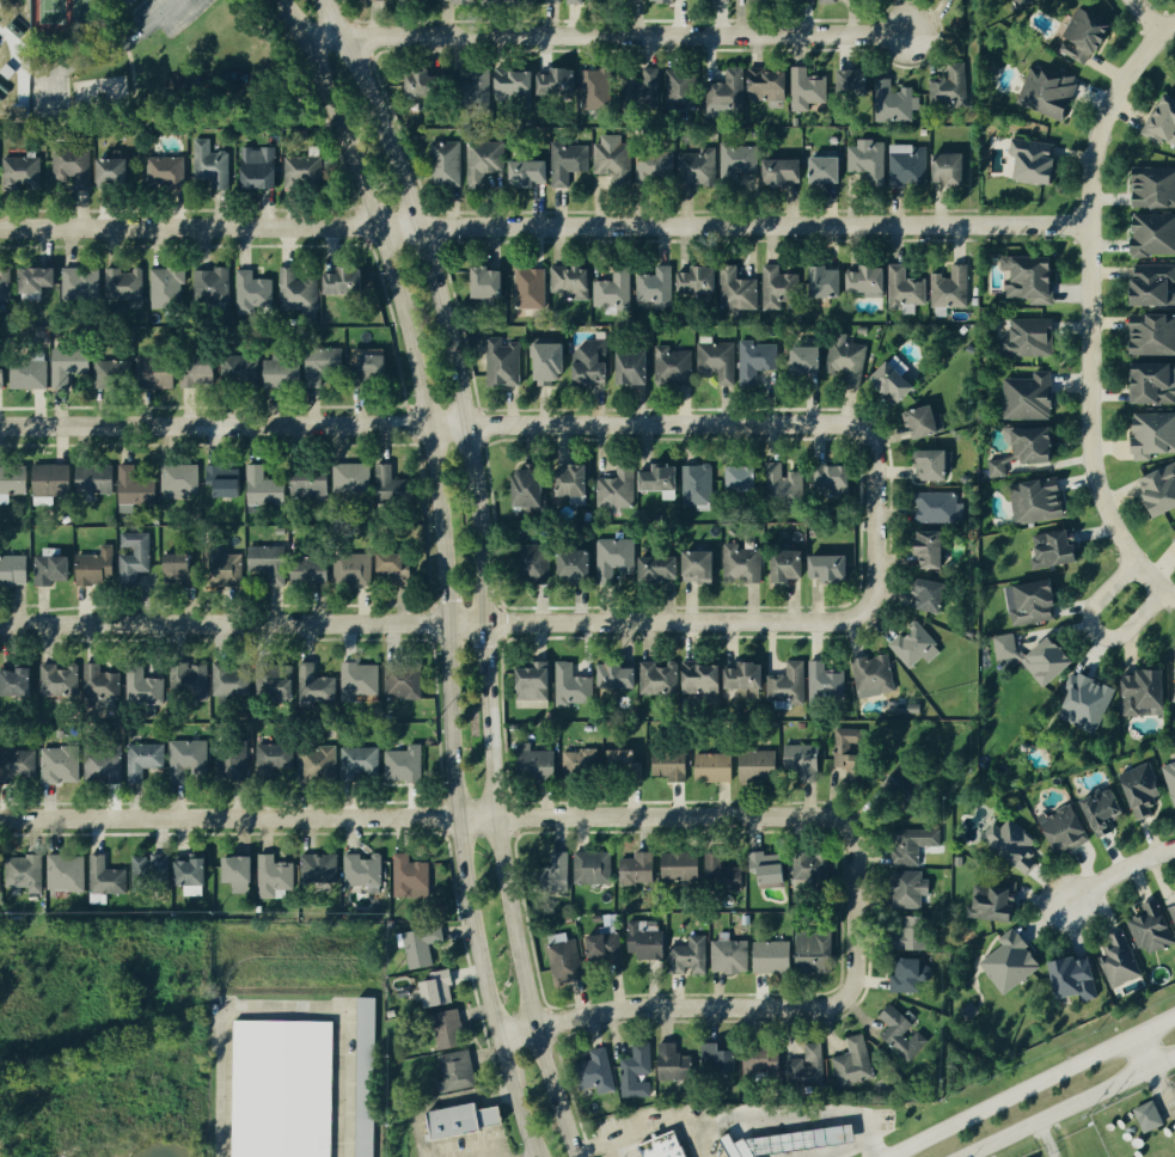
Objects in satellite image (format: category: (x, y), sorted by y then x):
building: (381, 0)
building: (498, 0)
building: (541, 0)
building: (673, 0)
building: (720, 0)
building: (763, 0)
building: (469, 1)
building: (576, 1)
building: (828, 1)
building: (1014, 4)
road: (1144, 18)
road: (602, 35)
building: (1077, 38)
road: (105, 53)
road: (18, 62)
park: (159, 66)
building: (516, 82)
building: (559, 82)
building: (856, 82)
building: (428, 84)
building: (650, 84)
building: (771, 85)
building: (598, 88)
building: (681, 88)
building: (951, 88)
building: (808, 90)
building: (729, 91)
building: (1041, 93)
building: (898, 105)
building: (1158, 122)
building: (613, 159)
building: (485, 161)
building: (569, 163)
building: (739, 163)
building: (867, 163)
building: (1026, 163)
building: (447, 164)
building: (212, 165)
building: (655, 166)
building: (907, 166)
building: (72, 167)
building: (698, 167)
building: (262, 169)
building: (951, 169)
building: (306, 170)
building: (23, 171)
building: (116, 171)
building: (167, 171)
building: (784, 171)
building: (827, 171)
building: (532, 172)
building: (1150, 188)
road: (544, 225)
building: (1150, 235)
building: (700, 280)
building: (1024, 280)
building: (871, 281)
building: (39, 282)
building: (345, 282)
building: (822, 282)
building: (491, 283)
building: (573, 283)
building: (82, 284)
building: (6, 286)
building: (126, 286)
building: (213, 286)
building: (169, 287)
building: (657, 287)
building: (1148, 287)
building: (532, 288)
building: (779, 288)
building: (950, 288)
building: (299, 290)
building: (739, 290)
building: (906, 290)
building: (614, 292)
building: (253, 293)
road: (1089, 311)
building: (1148, 336)
building: (1023, 338)
building: (846, 356)
building: (720, 360)
building: (758, 360)
building: (803, 360)
building: (374, 363)
building: (503, 363)
building: (552, 363)
building: (593, 363)
building: (674, 365)
building: (72, 366)
building: (634, 368)
building: (240, 371)
building: (159, 372)
building: (201, 373)
building: (283, 373)
building: (115, 374)
building: (30, 375)
building: (2, 378)
building: (896, 379)
building: (1149, 384)
building: (1022, 398)
building: (925, 422)
road: (433, 423)
building: (1149, 436)
building: (1018, 451)
building: (934, 465)
building: (353, 478)
building: (96, 479)
building: (657, 479)
building: (746, 479)
building: (834, 479)
building: (227, 480)
building: (13, 482)
building: (180, 482)
building: (53, 483)
building: (312, 483)
building: (697, 484)
building: (785, 484)
building: (393, 486)
building: (135, 488)
building: (265, 488)
building: (533, 489)
building: (618, 490)
building: (1155, 490)
building: (1030, 502)
building: (941, 508)
building: (1173, 539)
building: (934, 550)
building: (1047, 551)
building: (134, 557)
building: (616, 559)
building: (224, 562)
building: (537, 562)
building: (270, 563)
building: (579, 564)
building: (743, 564)
building: (784, 565)
building: (662, 567)
building: (703, 567)
building: (53, 568)
building: (97, 568)
building: (179, 568)
building: (834, 568)
building: (397, 569)
building: (14, 570)
building: (355, 570)
road: (442, 570)
road: (483, 570)
building: (313, 573)
building: (931, 595)
building: (1027, 604)
road: (522, 620)
road: (1096, 631)
building: (914, 647)
building: (1028, 657)
building: (874, 677)
building: (620, 678)
building: (661, 679)
building: (704, 679)
building: (357, 680)
building: (402, 680)
building: (747, 680)
building: (60, 681)
building: (190, 681)
building: (276, 681)
building: (536, 681)
building: (19, 682)
building: (231, 682)
building: (825, 682)
building: (789, 684)
building: (1171, 684)
building: (317, 686)
building: (574, 686)
building: (103, 687)
building: (145, 687)
building: (1136, 694)
building: (1081, 704)
building: (533, 705)
building: (907, 709)
building: (587, 728)
building: (850, 753)
building: (1174, 753)
building: (276, 758)
building: (801, 758)
building: (189, 759)
building: (624, 760)
building: (145, 761)
building: (233, 761)
building: (19, 763)
building: (319, 763)
building: (361, 763)
building: (538, 763)
building: (582, 763)
building: (61, 765)
building: (405, 765)
building: (672, 765)
building: (761, 766)
building: (104, 769)
building: (712, 769)
building: (1168, 782)
building: (899, 783)
building: (1136, 792)
building: (1097, 813)
road: (423, 816)
building: (1059, 831)
building: (914, 845)
building: (1008, 846)
building: (683, 867)
building: (594, 868)
building: (813, 868)
building: (639, 869)
building: (320, 870)
building: (718, 870)
building: (773, 870)
road: (1118, 871)
building: (66, 873)
building: (152, 873)
building: (365, 873)
building: (561, 873)
building: (241, 874)
building: (24, 875)
building: (275, 879)
building: (411, 879)
building: (912, 889)
building: (0, 892)
building: (987, 902)
building: (1170, 919)
building: (1146, 930)
building: (917, 933)
building: (648, 941)
building: (607, 943)
building: (816, 953)
building: (691, 956)
building: (732, 956)
building: (775, 956)
building: (567, 962)
building: (1114, 962)
building: (1005, 963)
building: (912, 978)
building: (1067, 979)
building: (440, 990)
road: (758, 1006)
road: (277, 1009)
building: (446, 1028)
building: (902, 1034)
road: (1142, 1053)
building: (720, 1061)
building: (766, 1064)
building: (855, 1064)
building: (678, 1065)
building: (808, 1067)
building: (457, 1072)
building: (598, 1072)
building: (636, 1072)
building: (366, 1077)
road: (1159, 1086)
road: (1032, 1088)
building: (281, 1089)
road: (1067, 1107)
road: (739, 1118)
building: (1144, 1118)
building: (452, 1122)
road: (1046, 1138)
building: (796, 1143)
building: (661, 1146)
road: (496, 1156)
road: (534, 1156)

